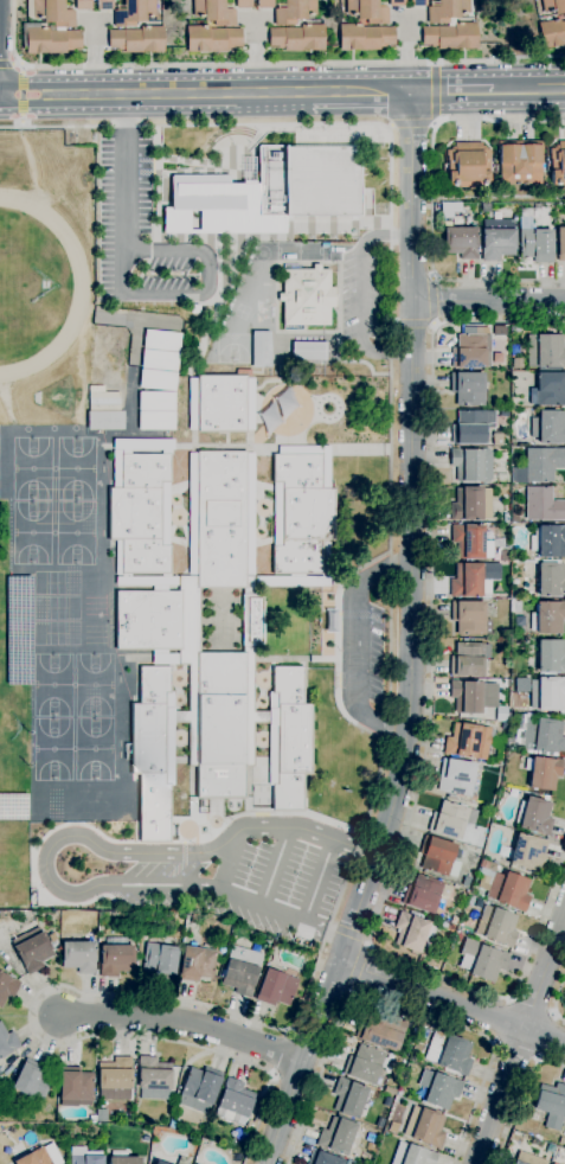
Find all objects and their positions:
building: (397, 2)
building: (418, 2)
building: (244, 4)
building: (265, 4)
building: (83, 5)
building: (105, 5)
building: (553, 5)
building: (295, 11)
building: (367, 11)
building: (447, 11)
building: (51, 12)
building: (135, 12)
building: (214, 12)
building: (552, 33)
building: (451, 36)
building: (365, 37)
building: (298, 38)
building: (137, 39)
building: (212, 39)
building: (51, 40)
road: (9, 64)
road: (259, 64)
road: (531, 89)
road: (455, 90)
road: (206, 92)
road: (435, 94)
road: (23, 95)
road: (412, 127)
building: (519, 161)
building: (558, 164)
building: (468, 165)
road: (123, 172)
building: (309, 180)
road: (432, 200)
building: (216, 207)
building: (450, 210)
parking lot: (142, 231)
building: (497, 239)
building: (461, 242)
building: (561, 244)
building: (537, 245)
park: (298, 250)
road: (159, 251)
road: (121, 271)
road: (432, 277)
track: (30, 284)
track: (79, 290)
road: (359, 293)
road: (190, 294)
building: (307, 295)
road: (430, 301)
road: (488, 307)
road: (394, 322)
road: (413, 324)
road: (432, 325)
building: (161, 339)
park: (232, 348)
building: (261, 350)
building: (471, 350)
building: (309, 351)
building: (550, 351)
building: (160, 360)
building: (516, 363)
building: (158, 380)
building: (468, 389)
building: (548, 389)
park: (53, 397)
building: (105, 401)
building: (156, 401)
building: (221, 403)
building: (105, 420)
building: (156, 420)
building: (548, 427)
building: (468, 428)
building: (470, 463)
building: (539, 465)
park: (32, 468)
park: (76, 469)
building: (471, 504)
building: (542, 505)
building: (140, 514)
building: (302, 514)
building: (506, 518)
building: (221, 519)
road: (411, 525)
park: (32, 533)
park: (75, 533)
building: (548, 541)
building: (473, 542)
building: (505, 556)
building: (474, 580)
building: (551, 580)
park: (56, 582)
building: (249, 586)
building: (514, 606)
park: (57, 608)
building: (469, 618)
building: (547, 618)
building: (148, 620)
building: (252, 620)
building: (329, 620)
building: (19, 628)
park: (57, 634)
road: (355, 645)
building: (190, 655)
parking lot: (375, 655)
building: (551, 657)
building: (468, 659)
road: (389, 667)
park: (53, 684)
park: (94, 685)
building: (547, 693)
building: (473, 696)
building: (251, 708)
building: (501, 714)
building: (220, 725)
road: (428, 729)
building: (542, 735)
building: (291, 738)
building: (468, 741)
park: (53, 748)
park: (95, 748)
building: (152, 754)
building: (544, 773)
building: (456, 776)
building: (13, 804)
building: (534, 816)
building: (451, 819)
road: (69, 836)
building: (528, 852)
building: (437, 855)
road: (229, 859)
road: (274, 866)
road: (316, 882)
building: (503, 887)
building: (425, 893)
building: (454, 920)
building: (496, 926)
building: (449, 927)
road: (325, 932)
building: (412, 932)
building: (457, 936)
building: (33, 952)
building: (78, 957)
building: (115, 957)
building: (159, 959)
building: (481, 960)
building: (195, 964)
road: (359, 970)
building: (240, 971)
building: (7, 987)
building: (275, 989)
road: (557, 999)
road: (449, 1002)
road: (398, 1005)
road: (532, 1005)
road: (500, 1019)
road: (184, 1023)
building: (383, 1030)
road: (547, 1037)
road: (520, 1038)
building: (7, 1041)
road: (515, 1051)
building: (448, 1053)
road: (304, 1057)
building: (364, 1064)
building: (115, 1074)
building: (154, 1079)
building: (28, 1080)
building: (76, 1086)
building: (199, 1089)
building: (389, 1091)
building: (442, 1091)
building: (348, 1098)
road: (521, 1099)
building: (233, 1102)
building: (551, 1105)
building: (101, 1115)
building: (534, 1115)
road: (257, 1120)
building: (424, 1127)
building: (336, 1136)
building: (370, 1138)
building: (411, 1155)
building: (40, 1156)
building: (83, 1157)
building: (122, 1158)
building: (326, 1159)
building: (159, 1163)
building: (516, 1163)
building: (553, 1163)

